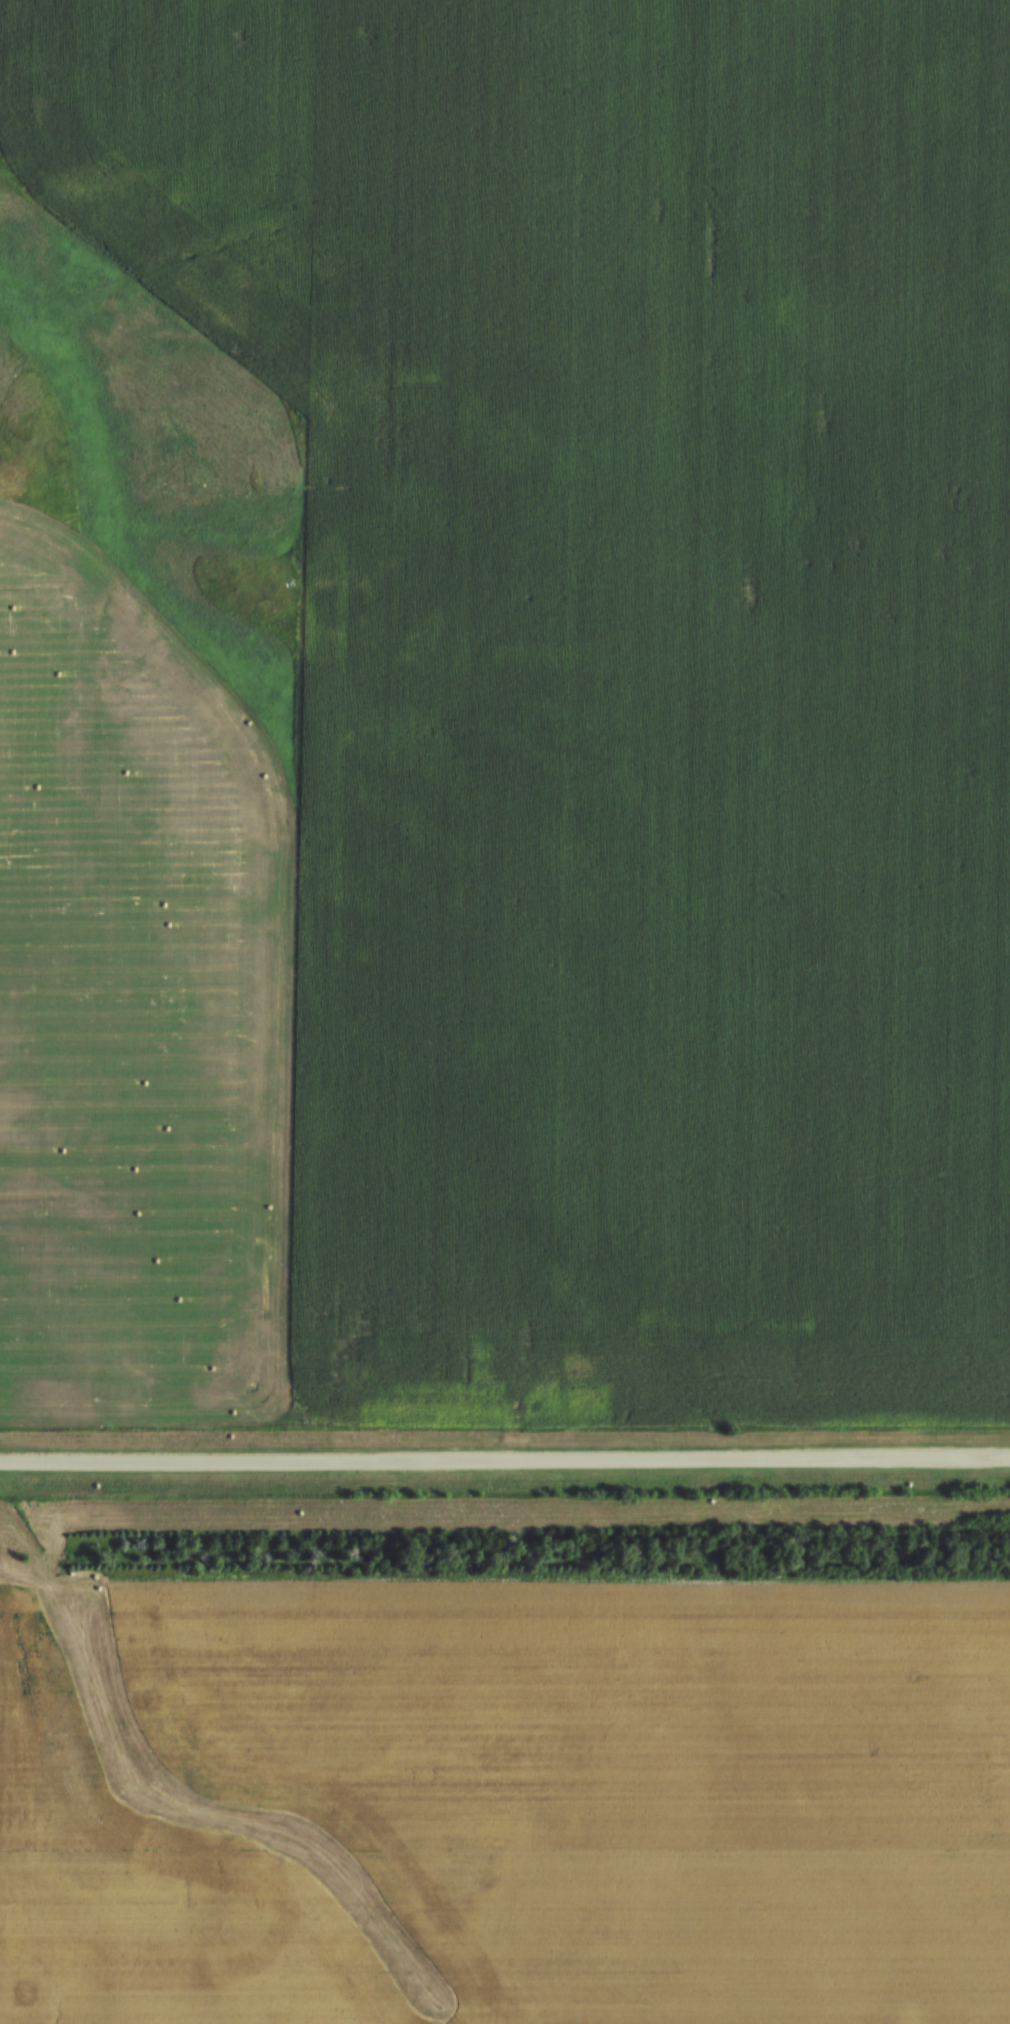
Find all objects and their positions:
road: (505, 1458)

